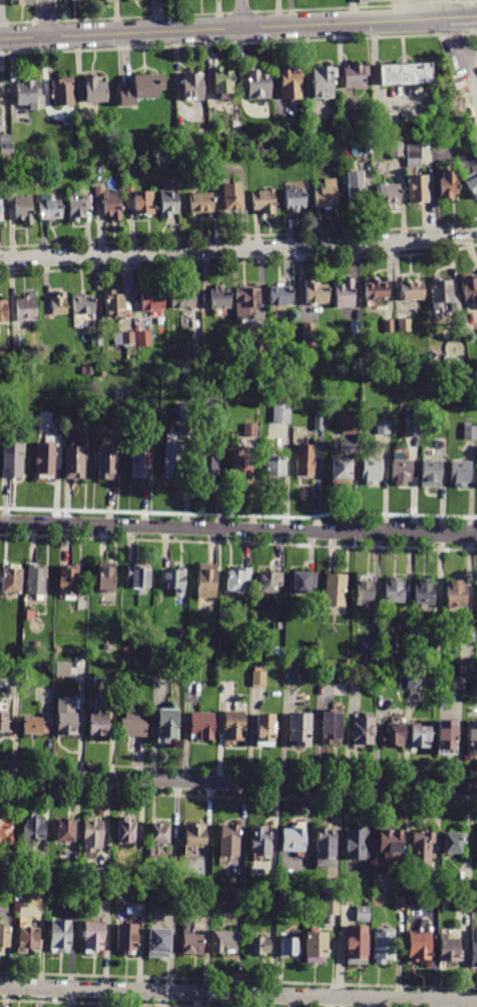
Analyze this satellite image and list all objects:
building: (75, 0)
building: (135, 0)
building: (0, 1)
building: (108, 1)
building: (471, 1)
building: (24, 3)
road: (408, 10)
road: (243, 14)
road: (463, 17)
road: (46, 18)
road: (224, 28)
road: (463, 50)
road: (475, 72)
building: (408, 75)
building: (358, 78)
building: (293, 85)
building: (325, 85)
building: (259, 86)
building: (226, 87)
building: (194, 88)
building: (144, 91)
building: (97, 92)
building: (65, 94)
building: (30, 95)
building: (6, 144)
building: (396, 148)
building: (368, 149)
building: (414, 155)
building: (471, 183)
building: (449, 184)
building: (356, 189)
building: (417, 189)
building: (325, 194)
building: (388, 194)
building: (231, 196)
building: (294, 198)
building: (140, 200)
building: (263, 200)
building: (201, 202)
building: (109, 203)
building: (168, 204)
building: (21, 207)
building: (49, 207)
building: (78, 208)
building: (0, 210)
road: (238, 248)
building: (376, 290)
building: (411, 290)
building: (470, 290)
building: (315, 293)
building: (344, 294)
building: (443, 294)
building: (280, 295)
building: (217, 297)
building: (182, 299)
building: (153, 301)
building: (245, 303)
building: (113, 304)
building: (82, 305)
building: (55, 306)
building: (26, 308)
building: (3, 312)
building: (388, 325)
building: (404, 325)
building: (355, 328)
building: (310, 334)
building: (128, 339)
building: (144, 339)
building: (97, 340)
building: (18, 344)
building: (257, 345)
building: (197, 350)
building: (87, 370)
building: (415, 375)
building: (10, 376)
building: (281, 413)
building: (319, 420)
building: (217, 422)
building: (383, 423)
building: (412, 423)
building: (351, 424)
building: (250, 430)
building: (441, 431)
building: (187, 432)
building: (470, 432)
building: (74, 457)
building: (44, 460)
building: (172, 460)
building: (305, 460)
building: (10, 461)
building: (141, 461)
building: (105, 464)
building: (208, 464)
building: (241, 464)
building: (273, 468)
building: (340, 471)
building: (371, 471)
building: (401, 472)
building: (430, 473)
building: (459, 473)
road: (238, 529)
building: (136, 577)
building: (104, 578)
building: (235, 579)
building: (10, 580)
building: (174, 580)
building: (36, 581)
building: (67, 581)
building: (205, 581)
building: (267, 582)
building: (301, 583)
building: (334, 590)
building: (363, 590)
building: (392, 592)
building: (424, 592)
building: (455, 595)
building: (35, 644)
building: (291, 664)
building: (346, 664)
building: (374, 665)
building: (418, 666)
building: (466, 667)
building: (63, 669)
building: (258, 677)
building: (292, 678)
building: (416, 683)
building: (455, 683)
building: (64, 718)
building: (5, 725)
building: (95, 725)
building: (166, 726)
building: (200, 726)
building: (32, 727)
building: (232, 727)
building: (133, 728)
building: (329, 728)
building: (298, 729)
building: (361, 730)
building: (263, 731)
building: (392, 737)
building: (419, 738)
building: (444, 739)
building: (471, 739)
road: (238, 783)
building: (61, 829)
building: (123, 829)
building: (6, 830)
building: (31, 831)
building: (157, 832)
building: (194, 832)
building: (91, 835)
building: (292, 837)
building: (228, 839)
building: (262, 841)
building: (453, 841)
building: (354, 844)
building: (387, 844)
building: (421, 845)
building: (325, 846)
building: (476, 848)
building: (42, 871)
building: (73, 873)
building: (103, 874)
building: (465, 887)
building: (273, 896)
building: (345, 896)
building: (238, 897)
building: (331, 903)
building: (400, 903)
building: (463, 904)
building: (475, 906)
building: (362, 914)
building: (3, 936)
building: (59, 936)
building: (91, 936)
building: (126, 938)
building: (27, 939)
building: (224, 941)
building: (189, 942)
building: (157, 943)
building: (355, 943)
building: (256, 945)
building: (313, 945)
building: (288, 946)
building: (383, 946)
building: (418, 948)
building: (449, 948)
building: (473, 948)
road: (238, 995)

